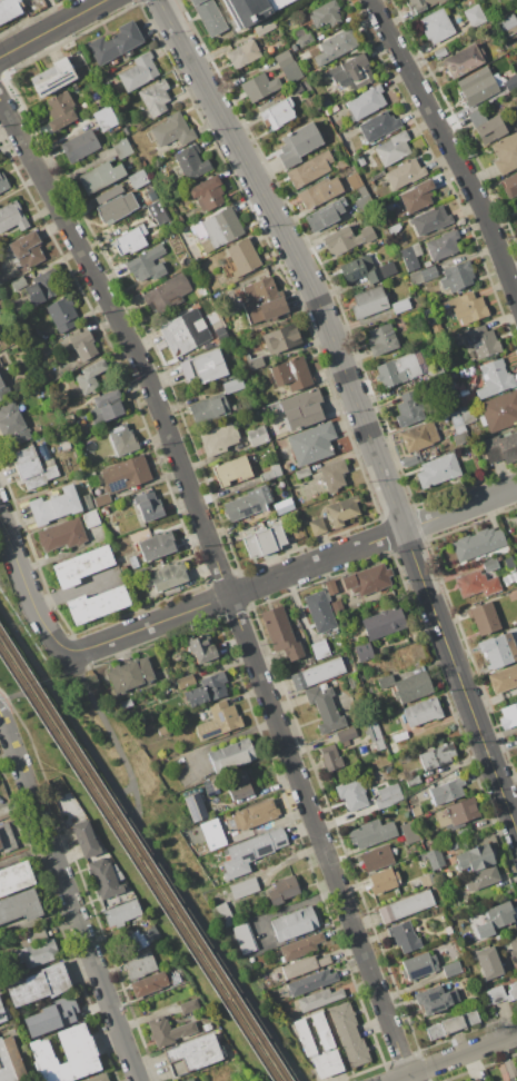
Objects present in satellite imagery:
building: (421, 4)
building: (8, 9)
building: (252, 10)
building: (326, 13)
building: (209, 16)
building: (475, 16)
building: (436, 26)
building: (507, 26)
building: (264, 27)
road: (51, 28)
building: (487, 29)
building: (305, 39)
building: (115, 42)
building: (336, 46)
building: (294, 47)
building: (439, 52)
building: (242, 53)
building: (463, 60)
building: (288, 66)
building: (82, 71)
building: (139, 71)
building: (350, 72)
building: (52, 77)
building: (510, 83)
building: (477, 86)
building: (258, 87)
building: (296, 89)
building: (155, 97)
building: (366, 102)
building: (327, 103)
building: (60, 110)
building: (330, 110)
building: (278, 113)
building: (105, 118)
building: (378, 126)
building: (487, 126)
building: (171, 130)
building: (298, 145)
building: (79, 146)
building: (121, 148)
building: (392, 148)
road: (449, 148)
building: (506, 153)
building: (376, 159)
building: (360, 160)
building: (189, 163)
building: (341, 165)
building: (310, 170)
building: (405, 173)
building: (377, 175)
building: (99, 177)
building: (138, 178)
building: (352, 181)
building: (3, 182)
building: (510, 185)
building: (361, 191)
building: (320, 192)
building: (207, 195)
building: (418, 196)
building: (151, 197)
building: (364, 201)
building: (115, 205)
building: (143, 206)
building: (516, 206)
building: (158, 212)
building: (12, 216)
building: (325, 216)
building: (430, 220)
building: (391, 222)
building: (218, 229)
building: (394, 230)
building: (186, 236)
building: (346, 239)
building: (130, 240)
building: (444, 246)
building: (28, 250)
building: (193, 250)
building: (242, 256)
building: (410, 256)
building: (146, 266)
building: (366, 269)
building: (424, 274)
building: (457, 276)
building: (18, 282)
building: (211, 285)
building: (43, 287)
building: (167, 292)
building: (261, 299)
building: (368, 303)
building: (400, 306)
building: (466, 308)
building: (62, 314)
building: (177, 336)
building: (281, 338)
building: (381, 339)
building: (484, 343)
building: (81, 346)
building: (255, 361)
building: (209, 366)
building: (401, 368)
building: (187, 370)
building: (466, 371)
building: (291, 373)
building: (437, 373)
building: (49, 377)
building: (246, 377)
building: (494, 378)
building: (87, 379)
building: (233, 385)
building: (2, 389)
building: (46, 403)
building: (450, 403)
building: (107, 407)
building: (299, 408)
road: (357, 408)
building: (409, 408)
building: (208, 409)
building: (499, 411)
building: (468, 415)
building: (457, 422)
building: (12, 425)
building: (36, 426)
building: (259, 435)
building: (419, 436)
building: (461, 438)
building: (122, 439)
building: (218, 439)
building: (312, 444)
building: (64, 446)
building: (500, 447)
building: (44, 452)
building: (411, 459)
building: (287, 465)
building: (32, 468)
building: (233, 469)
building: (438, 470)
building: (271, 473)
building: (302, 473)
building: (125, 474)
building: (332, 476)
building: (90, 477)
building: (101, 499)
building: (86, 502)
building: (148, 505)
building: (243, 505)
building: (54, 506)
building: (282, 506)
building: (105, 510)
building: (312, 510)
building: (342, 510)
building: (90, 519)
building: (317, 526)
building: (61, 534)
building: (237, 534)
building: (265, 540)
building: (478, 543)
building: (157, 545)
building: (499, 558)
building: (132, 562)
building: (489, 564)
building: (509, 564)
building: (81, 565)
building: (123, 569)
road: (289, 573)
building: (166, 576)
building: (509, 578)
building: (368, 579)
road: (222, 583)
building: (477, 584)
road: (23, 585)
building: (330, 586)
road: (72, 589)
building: (171, 591)
building: (513, 595)
building: (97, 604)
building: (338, 609)
building: (320, 611)
building: (485, 617)
building: (382, 623)
building: (281, 633)
building: (201, 646)
building: (320, 649)
building: (365, 651)
building: (496, 651)
building: (320, 672)
building: (129, 674)
building: (504, 678)
building: (185, 681)
building: (352, 681)
building: (385, 681)
building: (412, 687)
building: (208, 690)
road: (12, 694)
building: (126, 703)
building: (325, 706)
road: (64, 708)
building: (421, 711)
building: (508, 715)
building: (218, 718)
building: (165, 728)
park: (31, 732)
building: (375, 734)
road: (109, 735)
building: (346, 735)
building: (516, 736)
road: (57, 738)
building: (231, 755)
building: (437, 756)
building: (330, 757)
building: (400, 776)
building: (412, 781)
building: (209, 784)
building: (241, 785)
road: (127, 790)
building: (447, 791)
building: (351, 795)
building: (388, 795)
building: (196, 806)
building: (69, 810)
building: (415, 811)
building: (255, 814)
building: (457, 814)
building: (371, 832)
building: (409, 832)
building: (461, 832)
building: (212, 833)
building: (7, 837)
building: (86, 839)
park: (145, 843)
building: (0, 845)
building: (451, 847)
building: (251, 852)
building: (377, 857)
building: (434, 857)
building: (476, 857)
railway: (142, 859)
railway: (137, 866)
building: (16, 877)
building: (105, 879)
building: (481, 879)
building: (427, 880)
building: (382, 881)
building: (243, 887)
building: (282, 890)
road: (69, 899)
building: (19, 906)
building: (406, 906)
building: (121, 913)
building: (223, 914)
building: (500, 914)
building: (295, 923)
building: (448, 930)
building: (497, 933)
building: (404, 936)
building: (141, 938)
building: (245, 938)
road: (215, 945)
building: (300, 946)
building: (514, 948)
building: (34, 949)
building: (251, 959)
building: (488, 962)
building: (139, 964)
building: (171, 964)
building: (305, 965)
building: (419, 965)
building: (453, 969)
building: (57, 978)
building: (310, 982)
building: (150, 983)
building: (28, 989)
building: (510, 990)
building: (494, 994)
building: (319, 999)
building: (435, 1000)
building: (189, 1005)
building: (3, 1013)
building: (52, 1015)
building: (453, 1025)
building: (207, 1027)
building: (168, 1031)
building: (322, 1031)
building: (349, 1034)
building: (305, 1038)
building: (79, 1048)
building: (193, 1053)
road: (453, 1057)
building: (10, 1061)
building: (327, 1063)
building: (510, 1068)
building: (505, 1077)
building: (97, 1078)
building: (476, 1079)
building: (189, 1080)
building: (485, 1080)

